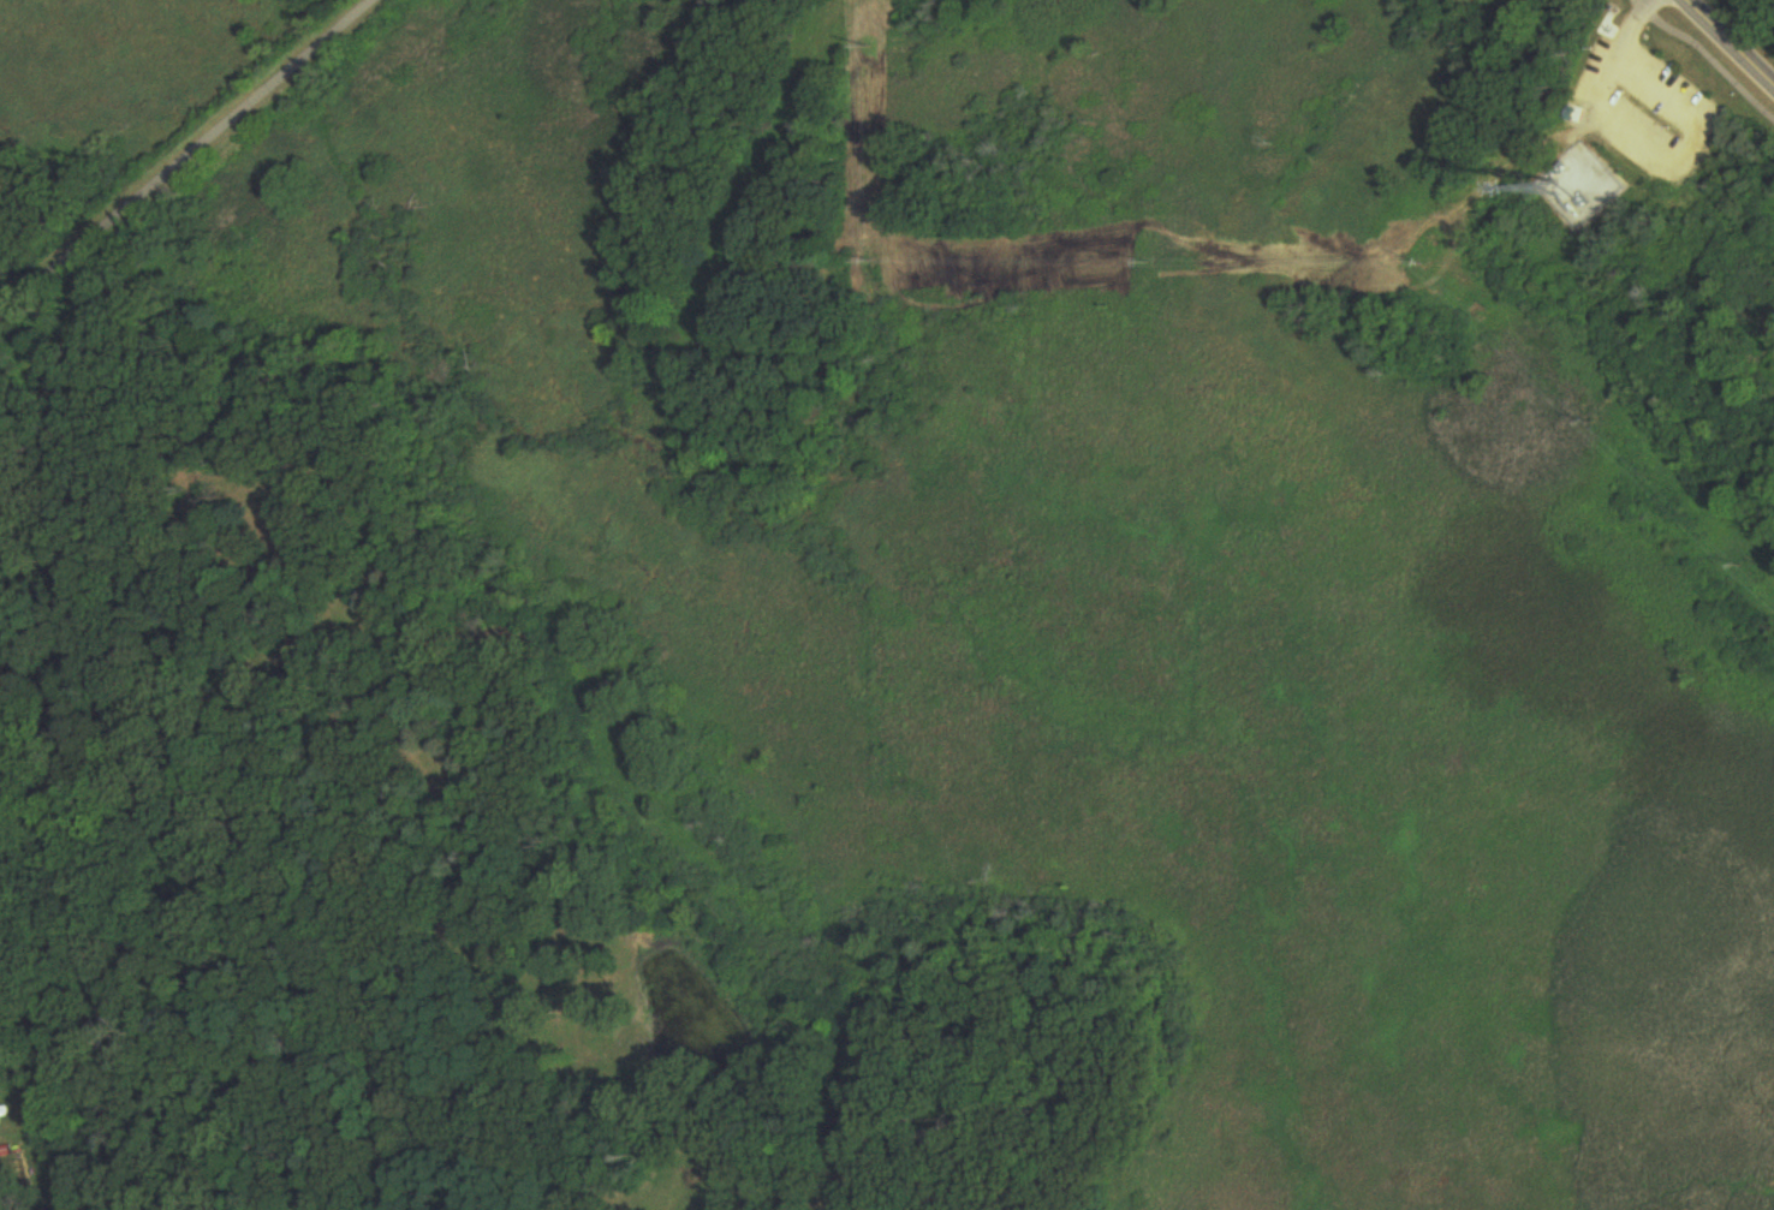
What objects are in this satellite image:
road: (1731, 42)
road: (1707, 56)
road: (1607, 70)
parking lot: (1644, 108)
park: (1629, 138)
road: (1689, 145)
road: (185, 156)

